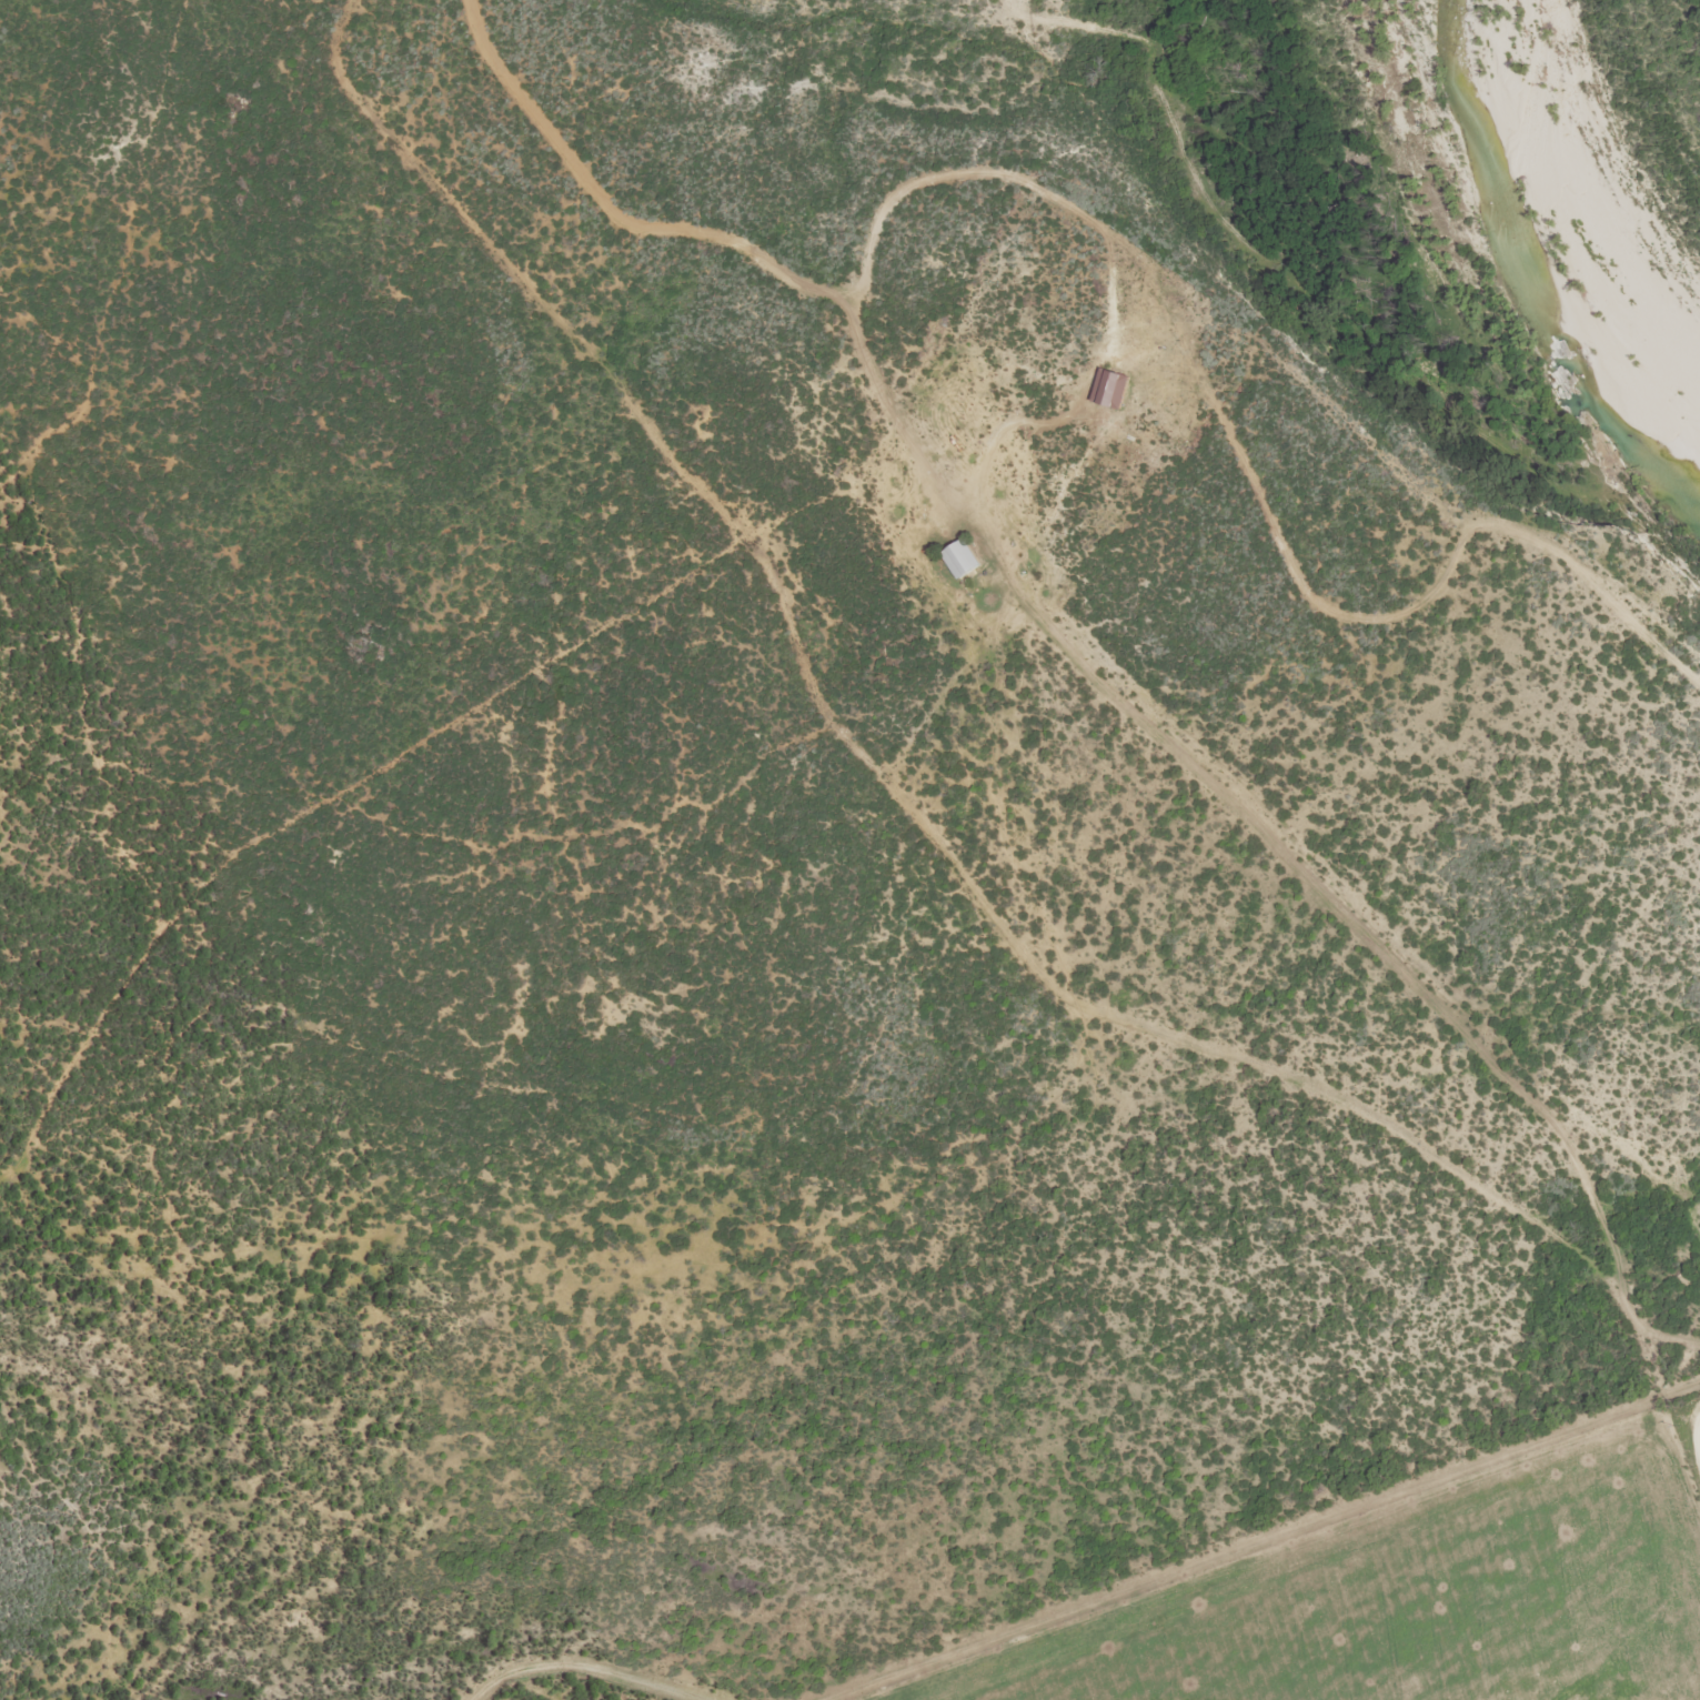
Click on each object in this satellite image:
river: (1530, 289)
building: (1114, 389)
building: (963, 559)
road: (924, 822)
road: (1273, 1543)
road: (595, 1661)

